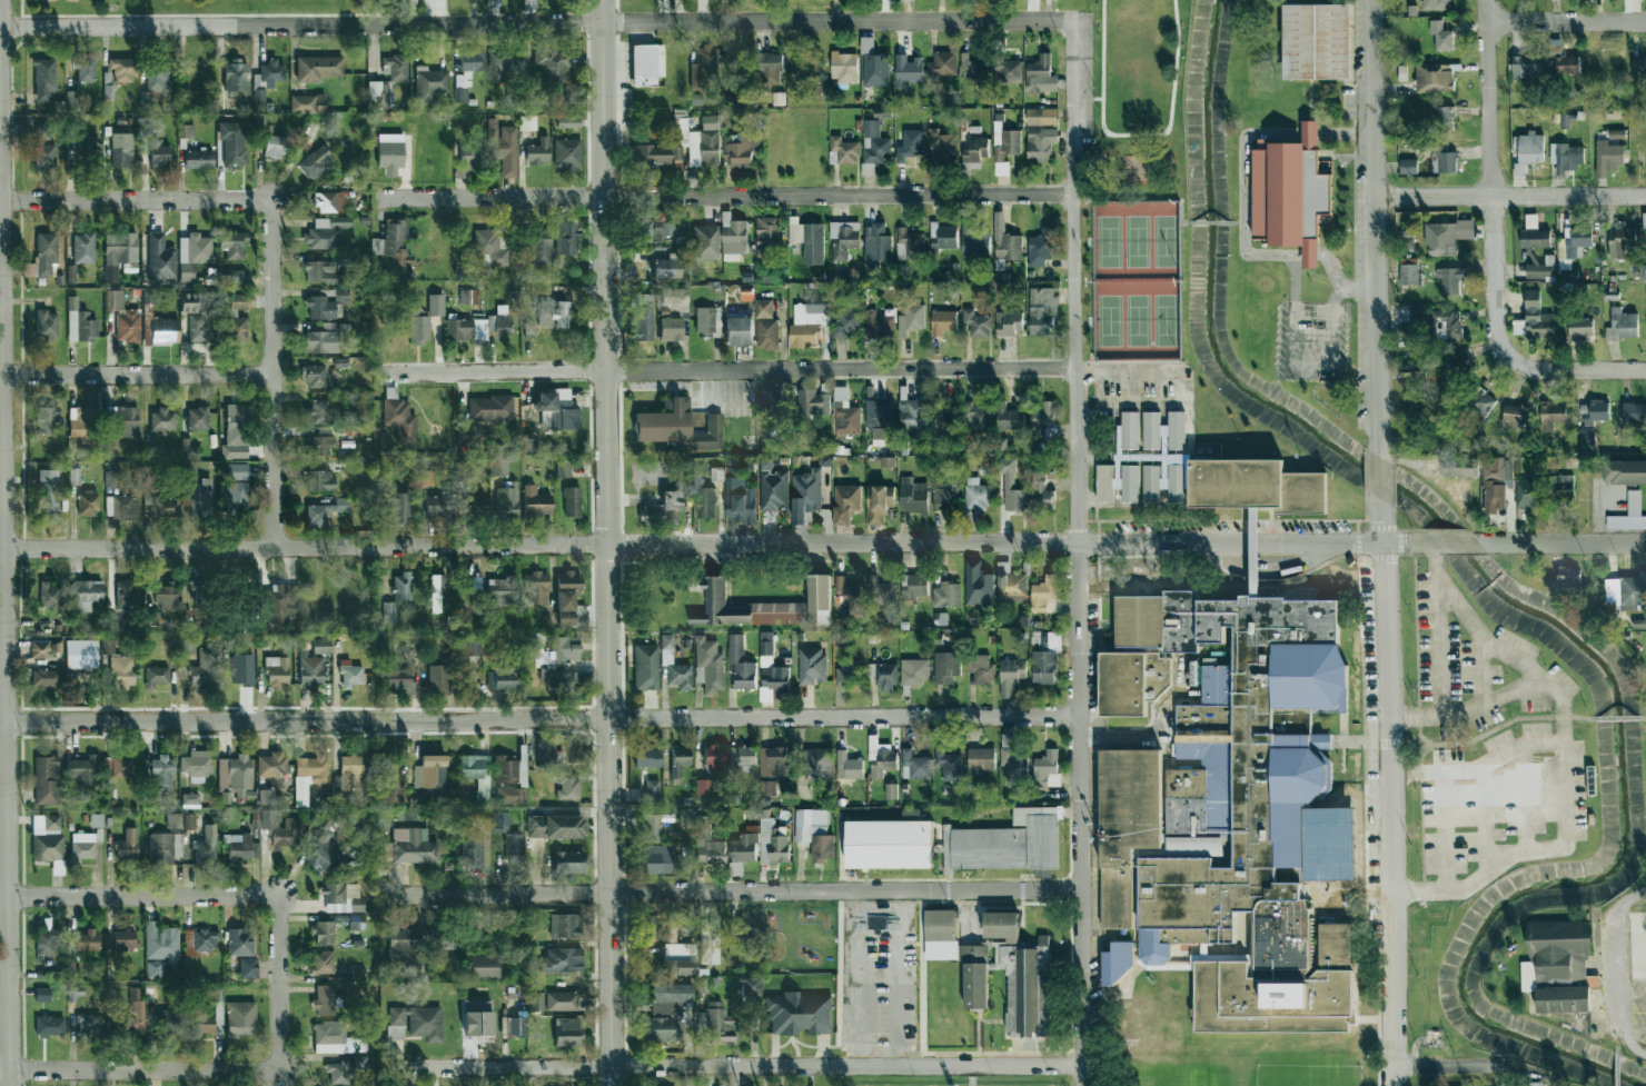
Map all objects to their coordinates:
building: (909, 0)
building: (1555, 0)
building: (408, 1)
building: (1436, 4)
road: (534, 22)
road: (1566, 22)
building: (1440, 36)
building: (1316, 41)
building: (1638, 63)
building: (548, 64)
building: (646, 64)
building: (942, 64)
building: (703, 66)
building: (497, 67)
building: (769, 67)
building: (843, 67)
building: (1527, 67)
building: (318, 68)
building: (395, 68)
building: (83, 69)
building: (875, 69)
building: (974, 69)
building: (122, 70)
building: (908, 70)
building: (1010, 71)
building: (271, 73)
building: (467, 73)
building: (158, 76)
building: (236, 76)
building: (1041, 76)
building: (1434, 78)
building: (43, 79)
building: (429, 83)
building: (108, 91)
building: (378, 93)
building: (70, 97)
building: (146, 98)
building: (307, 103)
building: (882, 113)
building: (1041, 117)
building: (1442, 118)
building: (527, 122)
building: (571, 122)
building: (186, 131)
building: (1616, 134)
building: (702, 142)
building: (232, 143)
building: (1007, 145)
building: (1040, 145)
building: (274, 146)
building: (910, 146)
building: (943, 146)
building: (874, 147)
building: (85, 148)
building: (742, 149)
building: (121, 150)
building: (505, 150)
building: (844, 150)
building: (43, 151)
building: (978, 151)
building: (1529, 151)
building: (389, 152)
building: (537, 152)
building: (557, 153)
building: (158, 155)
building: (468, 155)
building: (655, 156)
building: (1566, 157)
building: (1607, 158)
building: (198, 159)
building: (1445, 159)
building: (315, 162)
building: (1408, 167)
road: (1489, 178)
building: (1291, 193)
road: (722, 197)
road: (1510, 197)
road: (135, 200)
building: (328, 202)
road: (1243, 203)
building: (1645, 216)
road: (1212, 222)
road: (1240, 222)
building: (657, 226)
road: (1376, 228)
road: (1092, 229)
building: (326, 232)
building: (944, 236)
building: (1446, 237)
building: (558, 238)
building: (1535, 238)
building: (766, 239)
building: (843, 239)
building: (975, 239)
building: (1620, 239)
building: (734, 240)
building: (809, 240)
building: (1005, 241)
building: (705, 242)
building: (876, 242)
building: (393, 243)
building: (231, 245)
building: (909, 245)
building: (1575, 245)
building: (489, 247)
building: (539, 247)
building: (83, 248)
building: (1040, 249)
building: (46, 253)
building: (119, 255)
building: (192, 255)
building: (160, 259)
building: (675, 260)
building: (661, 268)
building: (1541, 268)
building: (321, 271)
building: (1408, 271)
building: (70, 273)
building: (1645, 273)
building: (234, 277)
building: (1449, 279)
park: (1138, 280)
building: (341, 295)
building: (468, 297)
building: (113, 299)
building: (238, 301)
building: (187, 303)
building: (436, 305)
building: (323, 308)
building: (1042, 311)
building: (551, 313)
building: (1419, 313)
building: (641, 317)
building: (717, 318)
building: (912, 319)
building: (499, 320)
building: (704, 320)
building: (809, 321)
building: (846, 322)
building: (942, 322)
building: (1009, 322)
building: (1450, 322)
building: (46, 323)
building: (80, 323)
building: (976, 323)
building: (877, 325)
building: (1622, 325)
building: (127, 326)
building: (199, 326)
building: (766, 326)
building: (419, 327)
building: (1580, 328)
building: (236, 329)
building: (466, 329)
building: (671, 329)
building: (163, 330)
building: (529, 330)
building: (738, 331)
building: (323, 339)
building: (1455, 365)
road: (1573, 370)
road: (724, 371)
road: (270, 373)
road: (136, 375)
building: (315, 376)
road: (1127, 376)
building: (814, 401)
building: (1479, 402)
building: (773, 405)
building: (489, 408)
building: (549, 409)
building: (319, 411)
building: (1594, 411)
building: (1634, 412)
building: (844, 414)
building: (913, 415)
building: (1551, 415)
building: (1516, 416)
building: (399, 417)
building: (978, 417)
building: (1009, 418)
building: (47, 419)
building: (198, 419)
building: (881, 420)
building: (946, 420)
building: (1043, 420)
building: (127, 421)
building: (161, 421)
building: (665, 421)
building: (82, 422)
building: (1163, 430)
building: (236, 431)
building: (464, 434)
building: (710, 434)
building: (1587, 440)
building: (318, 445)
building: (888, 461)
building: (1460, 466)
building: (497, 467)
building: (564, 468)
building: (237, 471)
building: (1625, 471)
building: (716, 475)
building: (73, 476)
road: (1380, 477)
building: (111, 478)
building: (320, 480)
building: (1498, 481)
building: (1118, 482)
building: (1233, 484)
building: (1011, 486)
building: (773, 487)
building: (807, 490)
building: (945, 491)
building: (1040, 491)
building: (1561, 491)
building: (48, 492)
building: (1529, 492)
building: (237, 495)
building: (978, 495)
building: (741, 496)
building: (913, 496)
building: (199, 498)
building: (507, 500)
building: (572, 501)
building: (536, 502)
building: (705, 502)
building: (846, 502)
building: (879, 502)
building: (87, 504)
building: (473, 505)
building: (660, 505)
building: (399, 506)
building: (440, 506)
building: (169, 507)
building: (122, 508)
building: (325, 511)
building: (1629, 515)
road: (608, 542)
road: (1457, 542)
road: (717, 544)
road: (1561, 545)
road: (1077, 552)
building: (1464, 571)
building: (1567, 580)
building: (978, 584)
building: (1011, 584)
building: (913, 586)
building: (401, 587)
building: (536, 587)
building: (201, 590)
building: (436, 590)
building: (502, 591)
building: (881, 591)
building: (1626, 591)
building: (846, 592)
building: (86, 594)
building: (292, 594)
building: (126, 595)
building: (946, 595)
building: (166, 596)
building: (1045, 596)
building: (1484, 596)
building: (52, 598)
building: (277, 606)
building: (766, 606)
building: (565, 608)
building: (388, 612)
building: (152, 618)
building: (108, 646)
building: (321, 646)
building: (187, 647)
building: (473, 647)
building: (39, 649)
building: (559, 651)
building: (81, 654)
building: (741, 662)
building: (811, 665)
building: (675, 666)
building: (710, 666)
building: (771, 666)
building: (645, 667)
building: (946, 667)
building: (204, 668)
building: (242, 669)
building: (981, 669)
building: (122, 670)
building: (309, 670)
building: (277, 671)
building: (849, 671)
building: (914, 671)
building: (349, 675)
building: (157, 676)
building: (552, 676)
building: (885, 676)
building: (1011, 676)
building: (44, 678)
building: (438, 679)
building: (503, 679)
building: (399, 681)
road: (3, 687)
road: (1468, 711)
road: (1616, 718)
road: (1644, 718)
road: (538, 719)
building: (1007, 739)
building: (1321, 741)
road: (1469, 743)
building: (545, 753)
flagpole: (1342, 755)
road: (1563, 755)
building: (646, 757)
building: (742, 757)
building: (880, 758)
building: (713, 759)
building: (981, 759)
building: (678, 760)
building: (774, 761)
flagpole: (1342, 761)
building: (817, 764)
building: (196, 765)
building: (271, 765)
building: (914, 765)
building: (949, 765)
building: (847, 766)
building: (1014, 766)
road: (1478, 766)
building: (122, 767)
building: (313, 768)
building: (1047, 768)
flagpole: (1342, 768)
building: (82, 769)
building: (508, 769)
building: (348, 773)
building: (162, 774)
building: (235, 774)
building: (430, 774)
building: (476, 774)
building: (46, 780)
building: (559, 784)
building: (769, 788)
building: (703, 789)
building: (652, 790)
road: (1390, 790)
building: (891, 791)
building: (512, 795)
building: (266, 797)
building: (190, 800)
building: (1223, 810)
building: (686, 817)
building: (96, 820)
building: (175, 820)
building: (189, 821)
building: (498, 821)
building: (544, 827)
building: (650, 828)
building: (281, 829)
building: (814, 833)
building: (47, 838)
building: (1008, 843)
building: (324, 844)
building: (706, 844)
building: (773, 844)
building: (890, 844)
building: (82, 845)
building: (128, 845)
building: (206, 846)
building: (414, 846)
building: (165, 847)
building: (241, 847)
building: (472, 848)
building: (514, 848)
building: (744, 848)
building: (656, 859)
building: (557, 861)
building: (734, 868)
building: (1323, 890)
road: (730, 891)
road: (138, 894)
road: (1638, 895)
building: (343, 898)
building: (1327, 909)
road: (968, 915)
building: (356, 920)
building: (1001, 924)
building: (555, 926)
building: (671, 926)
building: (648, 927)
building: (742, 927)
building: (323, 933)
building: (188, 937)
building: (206, 939)
building: (87, 940)
building: (125, 940)
building: (240, 941)
building: (403, 941)
building: (708, 941)
building: (47, 943)
building: (161, 943)
building: (443, 943)
building: (958, 955)
building: (680, 959)
building: (551, 960)
road: (1616, 960)
building: (323, 963)
building: (1558, 965)
building: (482, 966)
building: (248, 967)
building: (155, 969)
building: (358, 974)
road: (896, 979)
road: (853, 980)
road: (278, 982)
building: (1025, 985)
building: (748, 986)
building: (42, 993)
building: (75, 993)
road: (1632, 996)
building: (671, 997)
building: (325, 1000)
building: (553, 1000)
building: (536, 1002)
parking lot: (1638, 1009)
building: (132, 1013)
building: (799, 1014)
building: (240, 1018)
building: (167, 1019)
building: (418, 1022)
building: (717, 1023)
building: (207, 1024)
building: (88, 1025)
building: (50, 1026)
building: (513, 1026)
building: (658, 1029)
road: (1632, 1032)
building: (395, 1033)
building: (558, 1033)
road: (1617, 1039)
road: (1629, 1045)
building: (359, 1062)
road: (1452, 1067)
road: (1616, 1067)
road: (732, 1069)
road: (139, 1070)
building: (338, 1073)
building: (1537, 1084)

